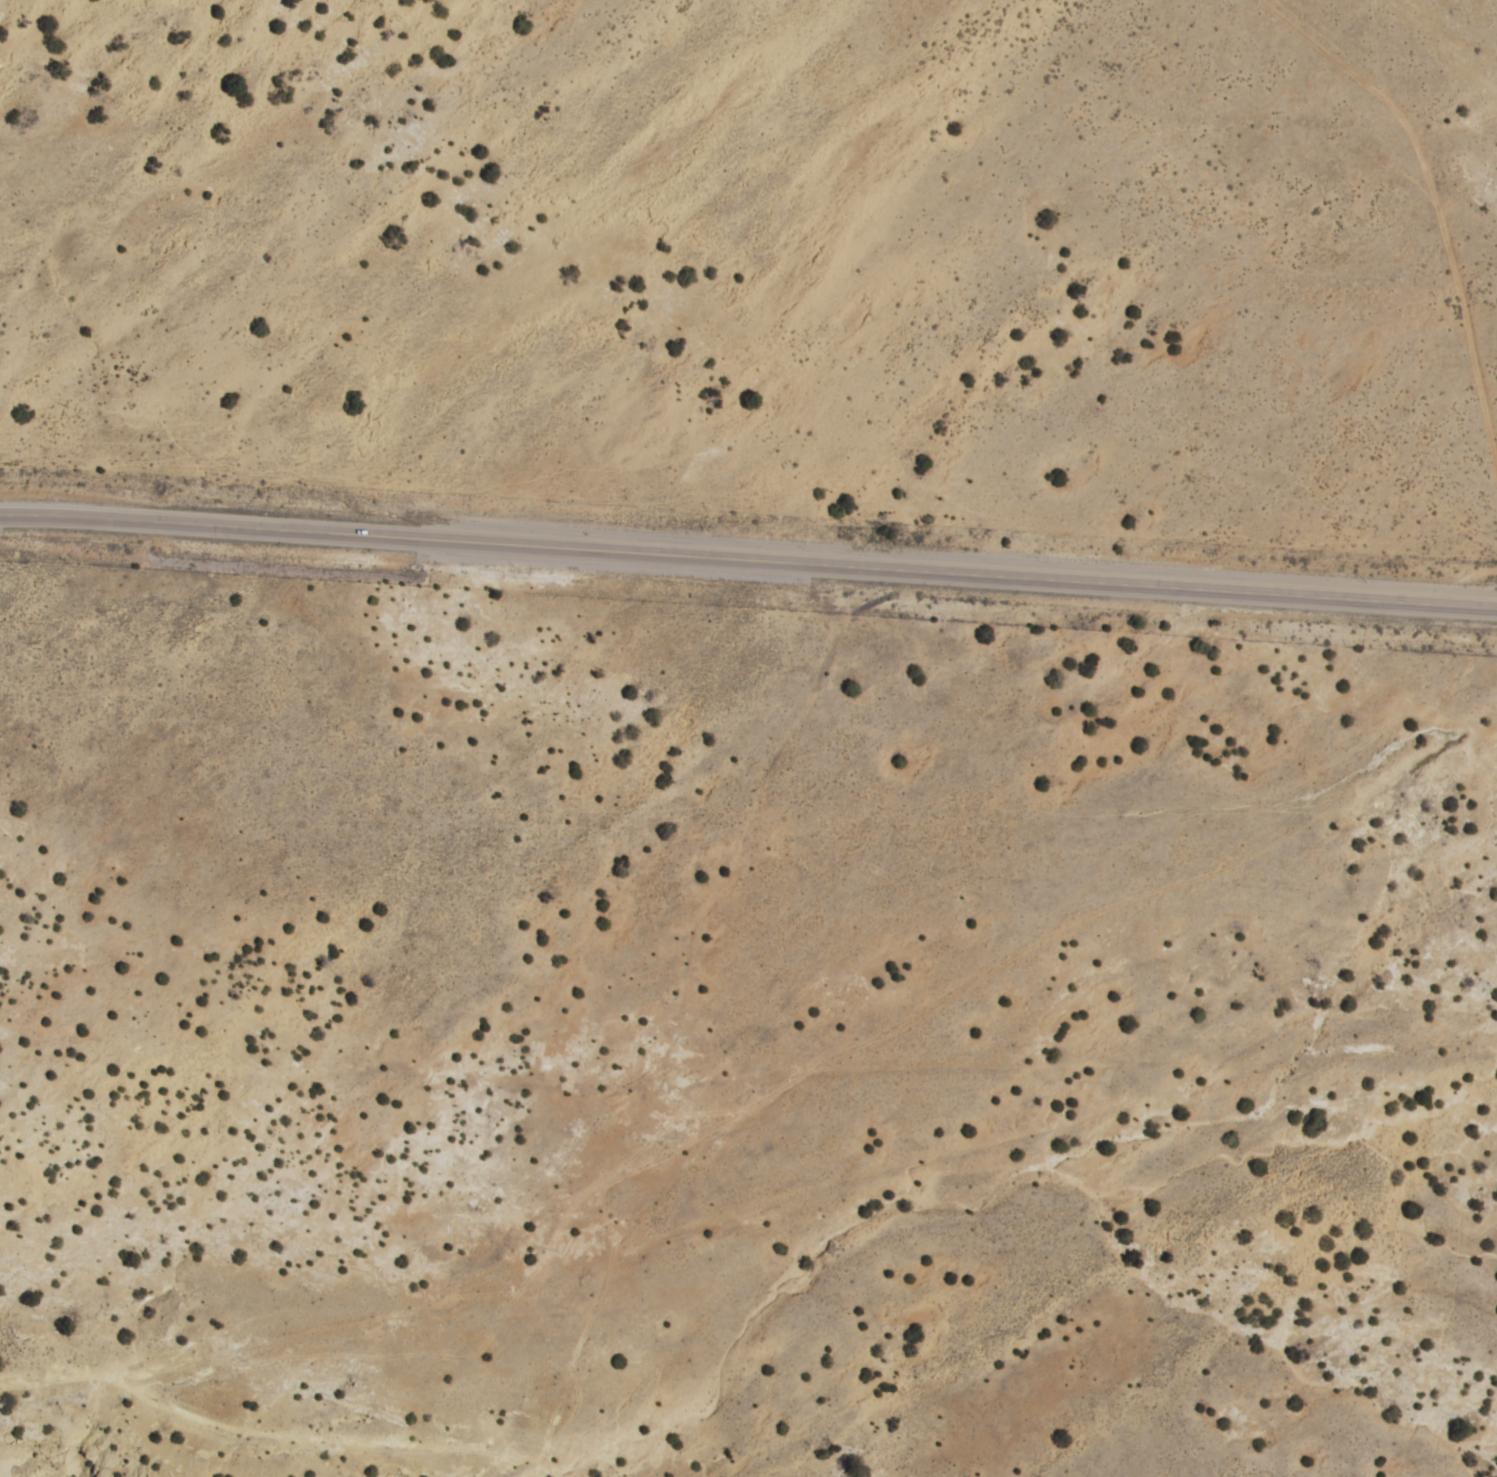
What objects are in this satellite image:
road: (1436, 186)
road: (748, 559)
road: (288, 1434)

